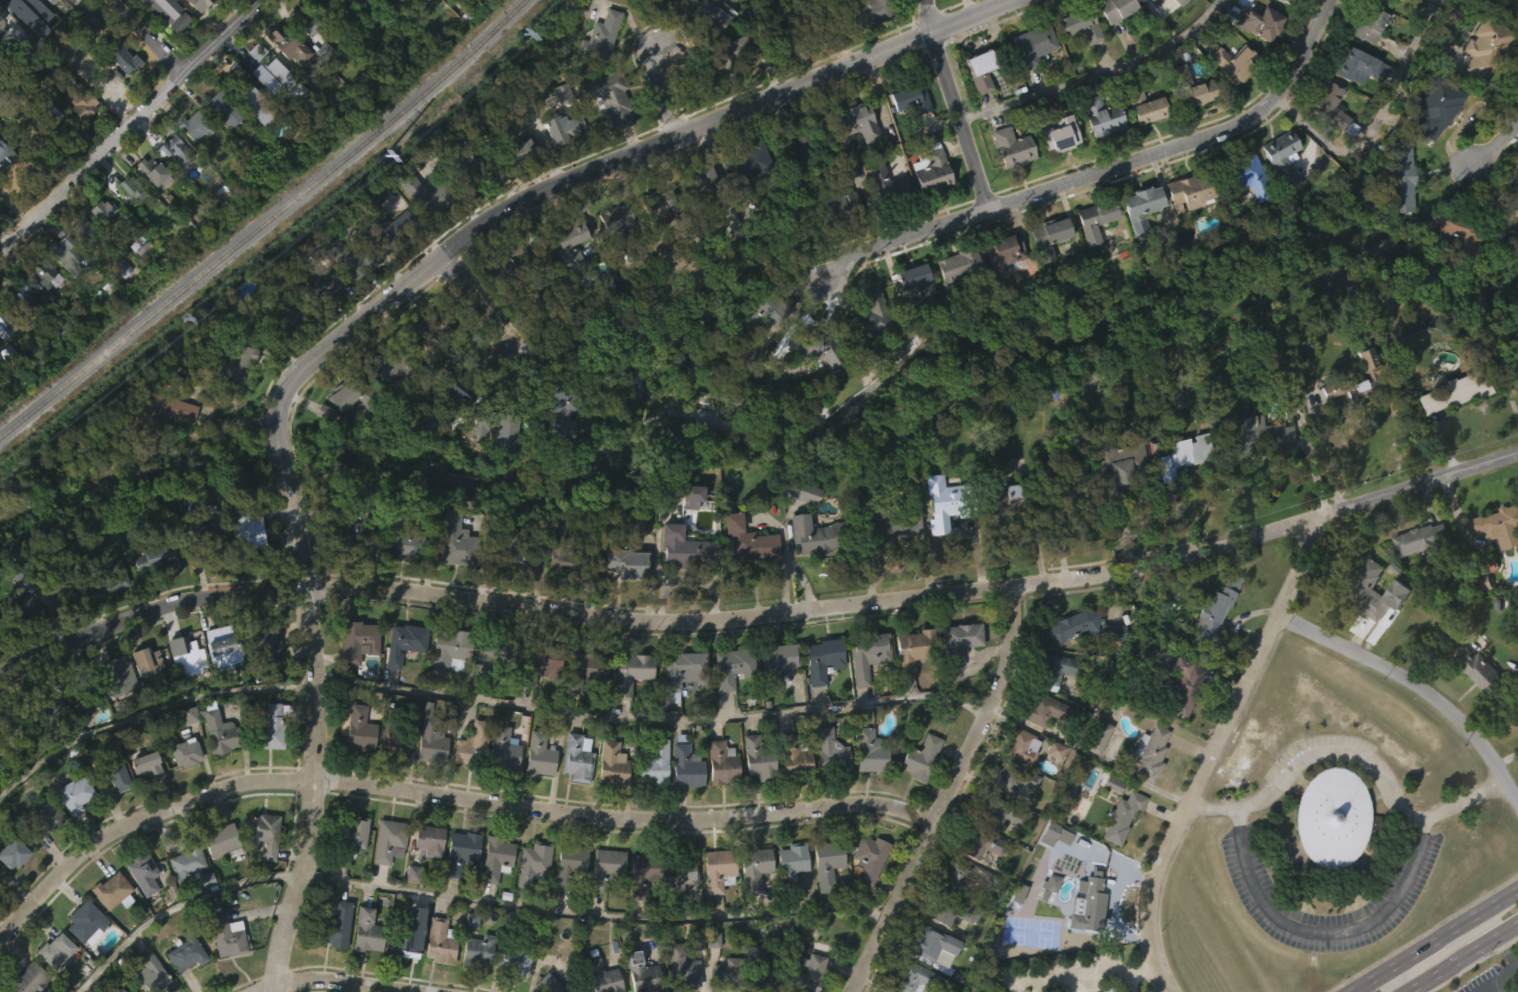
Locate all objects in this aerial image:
building: (110, 0)
building: (51, 1)
building: (355, 1)
building: (1285, 1)
building: (1378, 1)
building: (1516, 1)
building: (367, 2)
building: (649, 2)
building: (1177, 2)
building: (968, 3)
building: (197, 4)
building: (1116, 8)
building: (635, 11)
building: (0, 12)
building: (175, 13)
building: (708, 13)
building: (866, 13)
building: (1157, 16)
building: (0, 19)
building: (349, 20)
building: (306, 21)
building: (36, 22)
building: (1258, 22)
building: (1080, 24)
building: (1369, 26)
building: (661, 30)
building: (154, 31)
road: (151, 35)
building: (1111, 36)
power tower: (524, 37)
building: (603, 37)
building: (708, 39)
building: (27, 43)
building: (291, 43)
building: (1031, 44)
building: (1484, 46)
building: (87, 49)
building: (1, 52)
building: (1255, 54)
building: (1076, 57)
building: (729, 58)
building: (127, 62)
building: (1236, 62)
building: (597, 66)
building: (1357, 66)
building: (977, 69)
road: (1094, 74)
building: (284, 75)
building: (1028, 77)
building: (1480, 78)
building: (245, 82)
building: (320, 82)
building: (726, 86)
building: (1191, 87)
building: (118, 89)
road: (665, 91)
building: (1227, 94)
building: (905, 96)
building: (614, 98)
building: (1354, 98)
building: (976, 101)
building: (82, 102)
road: (953, 104)
building: (1175, 105)
building: (1434, 106)
building: (1146, 107)
building: (1330, 108)
building: (225, 110)
building: (273, 110)
building: (318, 116)
building: (1103, 116)
road: (1377, 118)
building: (858, 121)
building: (56, 124)
building: (196, 126)
building: (1188, 126)
road: (130, 128)
building: (561, 128)
building: (906, 129)
building: (607, 131)
building: (76, 132)
building: (1059, 134)
building: (1141, 138)
building: (1328, 140)
building: (1432, 140)
building: (218, 141)
road: (1498, 142)
building: (5, 143)
building: (1012, 145)
building: (51, 147)
building: (173, 148)
building: (519, 150)
building: (1098, 150)
building: (852, 152)
building: (192, 157)
power tower: (386, 157)
building: (1280, 158)
building: (549, 161)
road: (604, 162)
building: (466, 165)
building: (742, 166)
building: (1055, 166)
building: (150, 169)
building: (928, 169)
road: (1104, 171)
building: (1239, 175)
building: (1, 177)
building: (1398, 177)
building: (1007, 178)
building: (170, 180)
building: (512, 180)
building: (698, 181)
building: (886, 183)
building: (126, 184)
building: (457, 189)
building: (1191, 190)
building: (1278, 190)
building: (739, 192)
building: (430, 195)
building: (926, 202)
building: (150, 203)
building: (837, 203)
building: (658, 204)
building: (1142, 206)
building: (699, 208)
building: (1243, 208)
building: (1395, 208)
building: (102, 211)
building: (881, 215)
building: (1513, 217)
building: (1095, 218)
building: (128, 220)
railway: (264, 220)
building: (613, 223)
building: (1183, 223)
building: (418, 226)
building: (393, 227)
building: (1457, 229)
building: (84, 231)
building: (835, 233)
building: (652, 235)
building: (1049, 237)
building: (1136, 239)
building: (100, 241)
building: (571, 247)
building: (58, 249)
building: (1004, 251)
building: (1090, 251)
building: (338, 255)
building: (388, 258)
building: (79, 259)
building: (1453, 261)
building: (54, 262)
building: (508, 264)
building: (958, 267)
building: (1044, 268)
building: (43, 272)
building: (565, 273)
building: (135, 276)
building: (915, 277)
building: (60, 281)
building: (318, 286)
building: (999, 286)
building: (341, 287)
building: (500, 293)
building: (18, 295)
building: (118, 298)
building: (953, 298)
building: (544, 303)
building: (40, 304)
road: (478, 304)
building: (771, 306)
building: (913, 311)
building: (286, 313)
building: (312, 317)
building: (4, 318)
power tower: (187, 322)
building: (17, 326)
building: (868, 326)
building: (437, 329)
building: (813, 346)
building: (866, 347)
building: (282, 350)
building: (567, 351)
building: (4, 357)
building: (241, 362)
building: (400, 364)
building: (431, 364)
building: (810, 379)
building: (1357, 381)
road: (221, 384)
building: (5, 385)
building: (457, 391)
building: (1453, 391)
building: (356, 393)
building: (385, 398)
building: (172, 407)
building: (559, 408)
building: (1448, 423)
building: (504, 425)
building: (339, 427)
building: (1256, 436)
building: (165, 440)
building: (319, 443)
building: (554, 444)
building: (1182, 456)
road: (1327, 457)
road: (279, 459)
building: (498, 463)
building: (1120, 463)
building: (1257, 465)
road: (1314, 470)
building: (1179, 486)
building: (1064, 487)
building: (1116, 493)
building: (686, 496)
building: (1001, 497)
building: (946, 502)
building: (887, 520)
building: (1496, 523)
building: (248, 525)
building: (998, 527)
building: (354, 529)
building: (818, 534)
building: (212, 535)
road: (296, 536)
building: (461, 537)
building: (408, 539)
building: (749, 540)
building: (1420, 540)
building: (684, 548)
building: (569, 553)
building: (520, 555)
building: (934, 555)
building: (887, 556)
building: (1496, 557)
building: (158, 558)
building: (246, 560)
building: (346, 561)
building: (202, 564)
building: (624, 564)
building: (809, 565)
building: (395, 568)
building: (451, 571)
building: (744, 571)
building: (1417, 571)
building: (1483, 576)
building: (105, 577)
building: (678, 577)
building: (58, 589)
building: (152, 589)
building: (1377, 592)
building: (623, 594)
road: (919, 597)
building: (21, 610)
building: (102, 610)
building: (1212, 611)
road: (147, 612)
building: (1480, 614)
building: (1364, 621)
building: (1393, 625)
building: (1069, 626)
building: (46, 628)
building: (1109, 631)
building: (18, 639)
building: (361, 640)
building: (1210, 640)
building: (959, 642)
building: (270, 643)
building: (405, 643)
building: (910, 647)
building: (224, 648)
building: (452, 651)
building: (185, 655)
building: (491, 655)
building: (864, 655)
building: (819, 658)
building: (1074, 658)
building: (775, 663)
building: (538, 665)
building: (153, 667)
building: (731, 667)
building: (580, 670)
building: (1050, 670)
building: (1479, 670)
building: (354, 672)
building: (681, 672)
building: (954, 672)
building: (630, 674)
building: (263, 675)
building: (398, 675)
building: (120, 676)
building: (218, 678)
building: (909, 679)
building: (445, 680)
road: (313, 684)
building: (493, 685)
building: (1181, 686)
building: (863, 687)
road: (1415, 689)
building: (773, 690)
building: (818, 690)
building: (85, 692)
building: (144, 696)
building: (583, 696)
building: (727, 698)
building: (533, 699)
building: (1474, 700)
building: (677, 703)
building: (120, 704)
building: (626, 704)
building: (50, 707)
building: (1042, 709)
road: (146, 714)
building: (1179, 717)
road: (651, 719)
building: (17, 720)
building: (271, 727)
building: (218, 729)
building: (361, 729)
building: (1094, 735)
building: (399, 737)
building: (433, 737)
building: (1040, 740)
building: (49, 743)
building: (186, 745)
building: (471, 746)
building: (1021, 748)
building: (2, 751)
building: (503, 751)
building: (827, 751)
building: (866, 751)
road: (1218, 751)
building: (1150, 752)
building: (538, 756)
building: (791, 756)
building: (576, 757)
building: (753, 757)
building: (268, 758)
building: (920, 758)
road: (1357, 758)
building: (215, 761)
building: (720, 762)
building: (355, 763)
building: (611, 765)
building: (652, 765)
building: (145, 766)
building: (426, 767)
building: (1093, 767)
building: (684, 768)
building: (115, 774)
building: (393, 774)
building: (468, 774)
building: (1009, 777)
building: (499, 779)
building: (1050, 780)
building: (824, 781)
building: (865, 781)
building: (1146, 783)
building: (181, 784)
building: (788, 784)
building: (535, 786)
building: (573, 788)
building: (753, 789)
building: (916, 789)
road: (948, 793)
building: (77, 794)
building: (717, 794)
building: (608, 795)
building: (650, 795)
building: (143, 796)
building: (681, 796)
building: (114, 807)
building: (997, 812)
building: (1109, 814)
building: (1124, 815)
building: (48, 816)
building: (1329, 817)
road: (625, 818)
road: (137, 821)
building: (71, 825)
building: (266, 834)
building: (349, 835)
building: (389, 839)
building: (224, 840)
building: (429, 840)
building: (975, 842)
building: (995, 845)
building: (43, 846)
building: (1117, 847)
building: (463, 851)
building: (15, 853)
building: (498, 856)
building: (186, 859)
building: (869, 859)
building: (827, 861)
building: (534, 862)
building: (791, 862)
building: (351, 863)
building: (261, 864)
building: (567, 866)
building: (603, 868)
building: (751, 868)
building: (217, 869)
building: (718, 869)
building: (384, 870)
building: (142, 872)
building: (424, 872)
building: (677, 873)
building: (640, 874)
building: (975, 874)
building: (955, 879)
building: (456, 881)
building: (1, 885)
road: (298, 886)
building: (492, 888)
building: (863, 889)
building: (114, 891)
building: (529, 892)
building: (787, 892)
building: (182, 893)
building: (822, 894)
building: (566, 896)
building: (603, 897)
building: (750, 898)
building: (714, 900)
building: (408, 903)
building: (639, 903)
building: (139, 904)
building: (677, 904)
building: (952, 908)
building: (202, 910)
road: (179, 913)
road: (595, 915)
road: (1482, 915)
building: (85, 921)
building: (109, 921)
building: (338, 926)
road: (1323, 930)
building: (366, 931)
building: (227, 934)
building: (440, 940)
building: (1082, 940)
building: (406, 941)
building: (934, 945)
road: (1510, 947)
building: (54, 949)
building: (186, 951)
building: (481, 951)
building: (83, 953)
road: (1419, 953)
building: (333, 955)
road: (1462, 958)
building: (520, 960)
building: (363, 961)
building: (405, 964)
building: (223, 965)
building: (682, 966)
building: (708, 970)
building: (759, 970)
road: (1095, 971)
building: (435, 972)
building: (642, 972)
building: (725, 973)
road: (1509, 973)
building: (156, 975)
building: (807, 975)
building: (929, 975)
building: (602, 976)
building: (910, 978)
building: (33, 979)
building: (52, 979)
building: (474, 979)
road: (1374, 980)
road: (1400, 980)
road: (1496, 981)
building: (183, 982)
road: (346, 983)
building: (551, 984)
building: (673, 984)
building: (510, 986)
building: (630, 986)
building: (144, 987)
building: (3, 988)
building: (589, 989)
building: (726, 989)
building: (1105, 989)
building: (122, 990)
building: (576, 990)
road: (422, 991)
road: (1408, 991)

